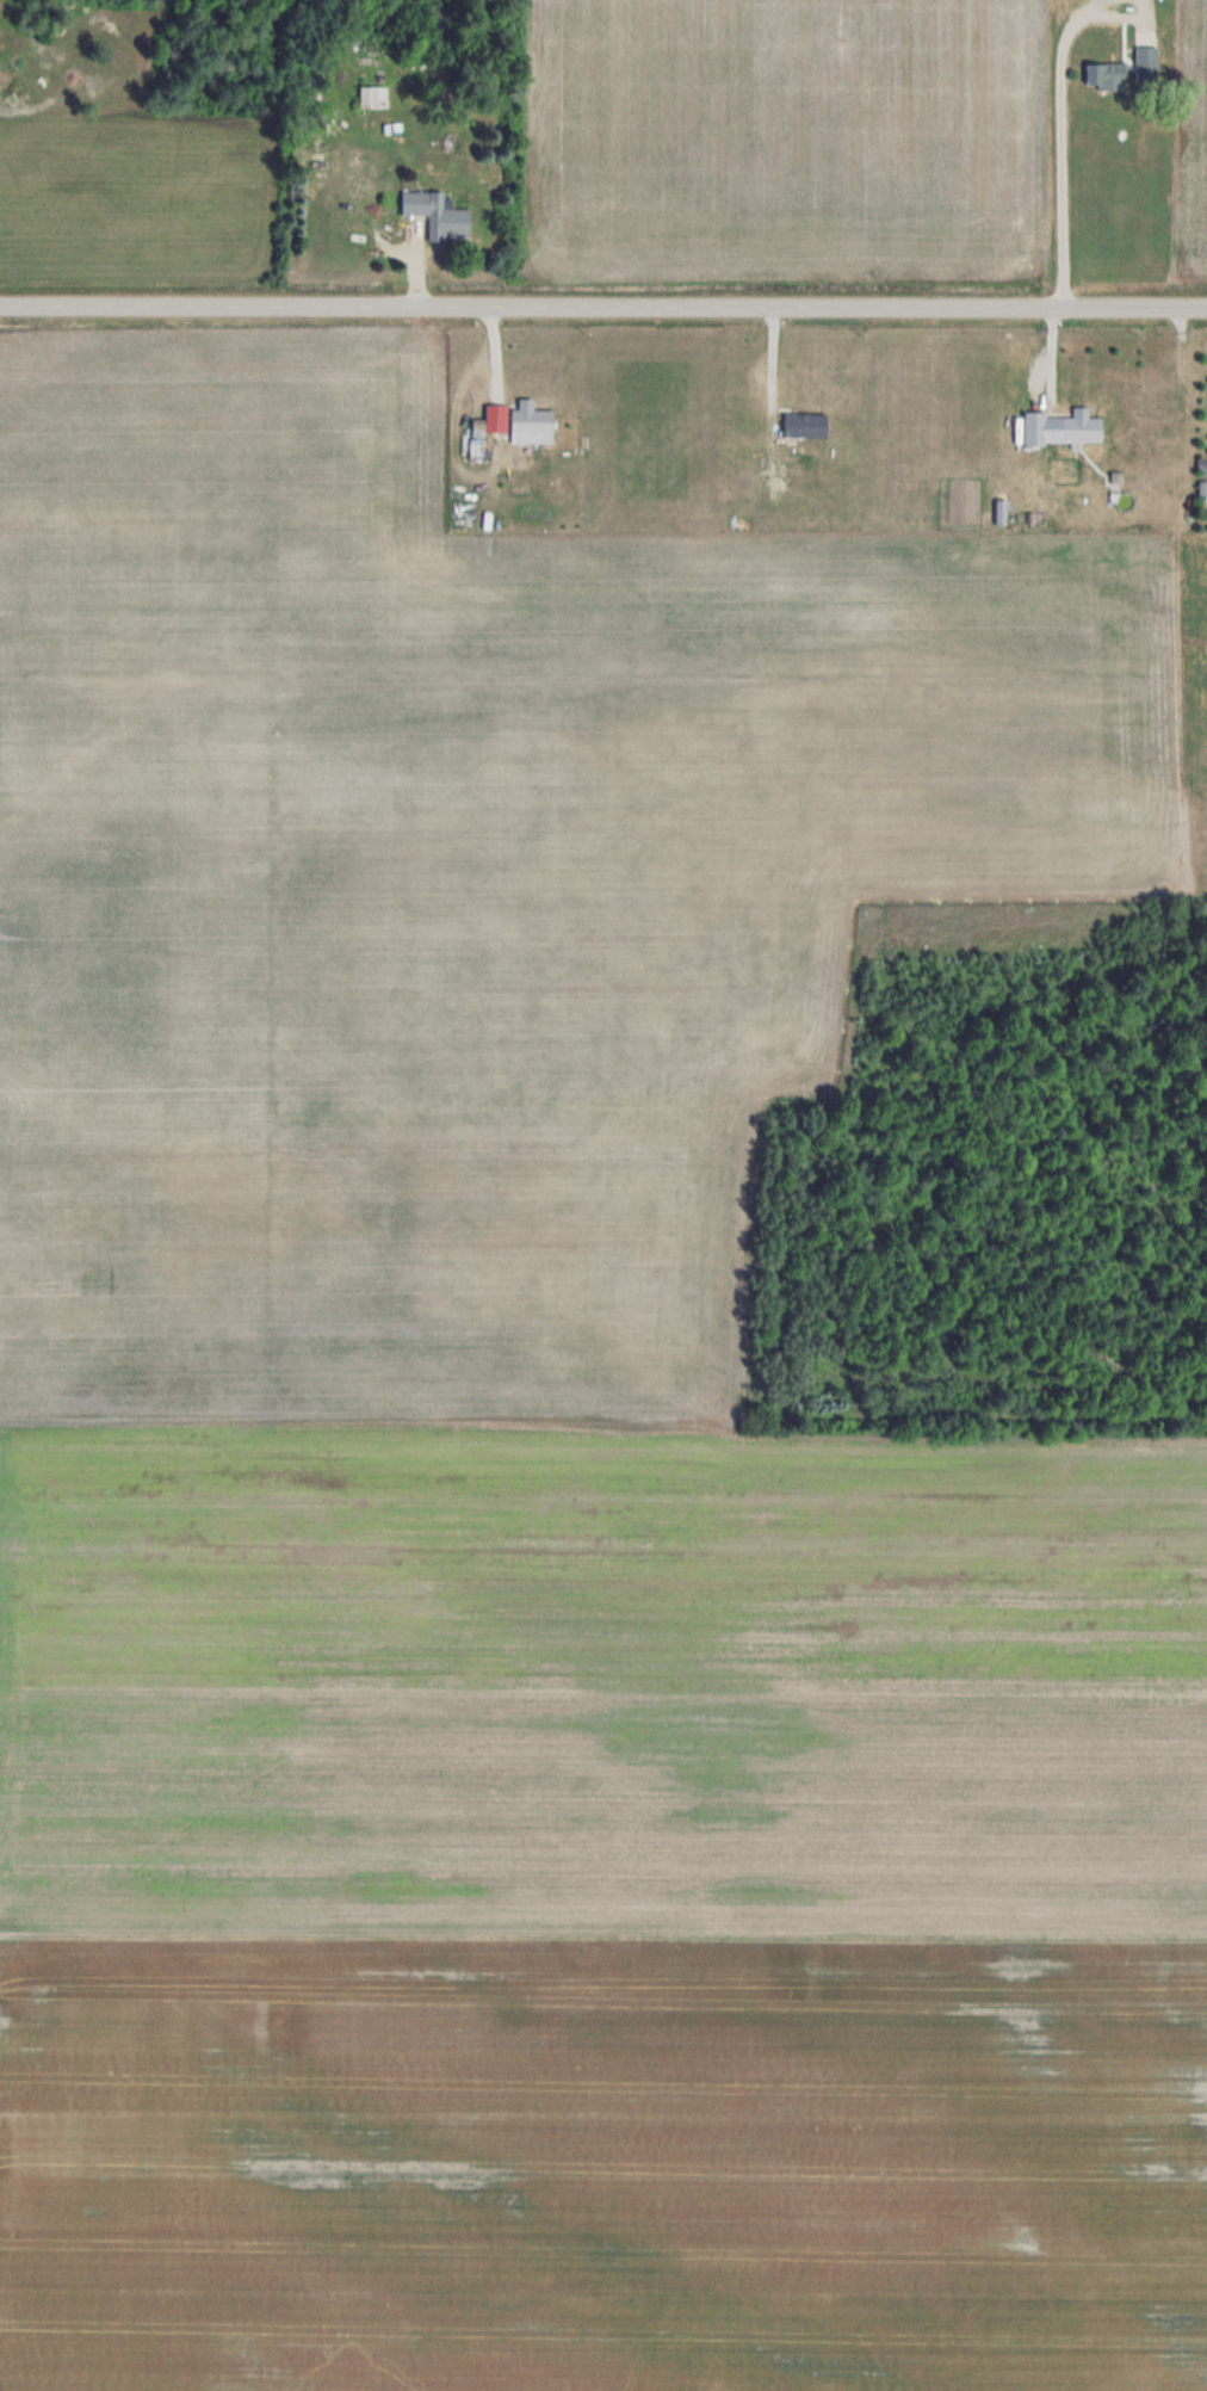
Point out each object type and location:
road: (1088, 5)
road: (1115, 16)
building: (1146, 60)
building: (1107, 74)
building: (373, 97)
road: (1057, 156)
building: (439, 215)
road: (602, 310)
building: (532, 421)
building: (805, 425)
building: (1082, 428)

